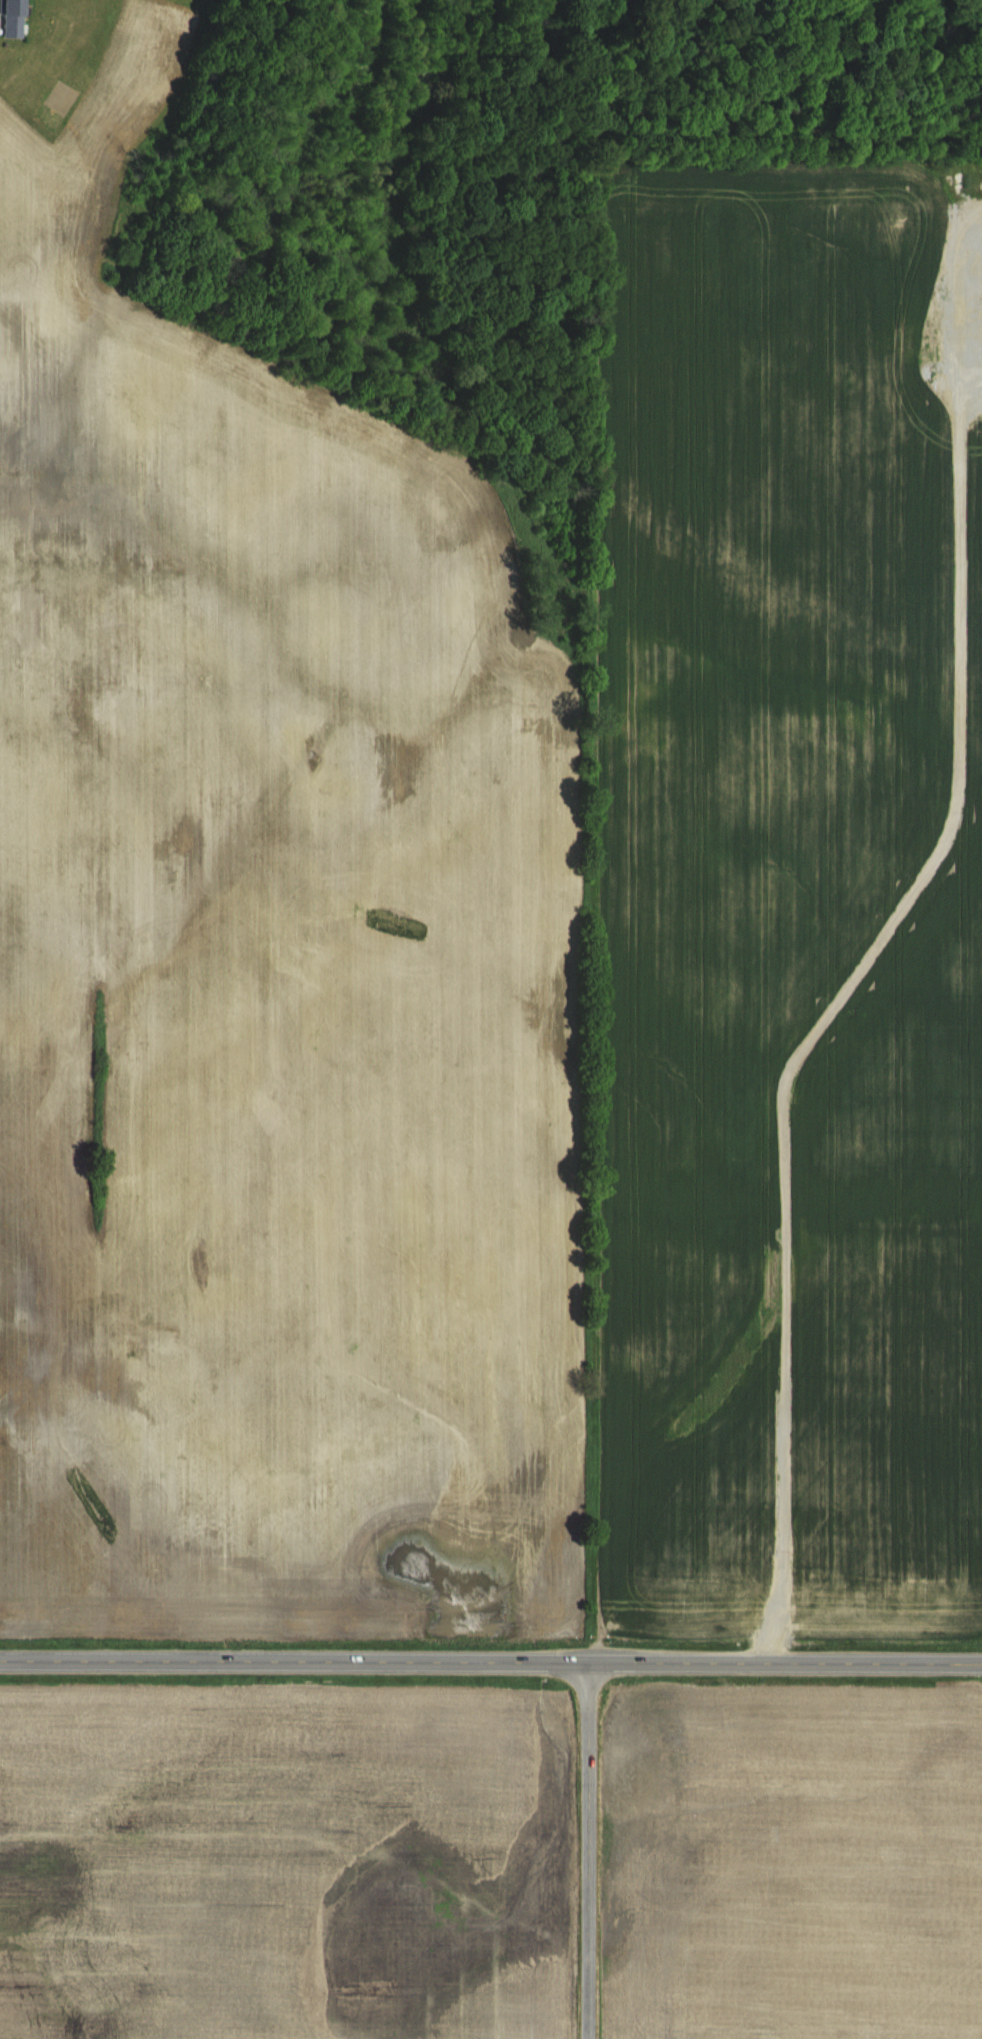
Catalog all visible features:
building: (8, 18)
road: (491, 1659)
road: (581, 1848)

